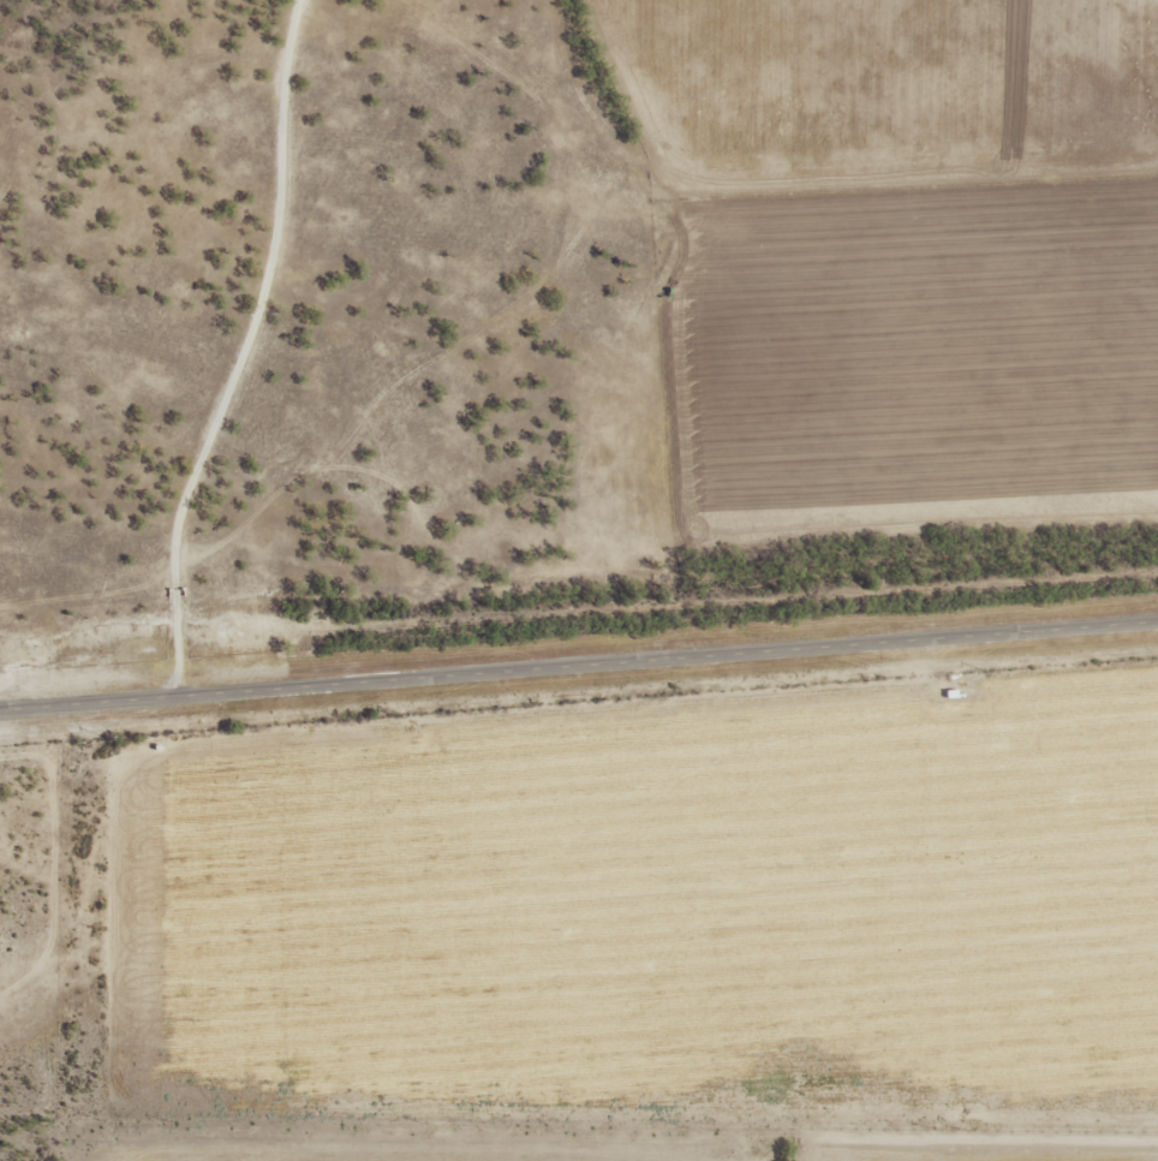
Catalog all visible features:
road: (237, 350)
railway: (578, 609)
road: (578, 663)

